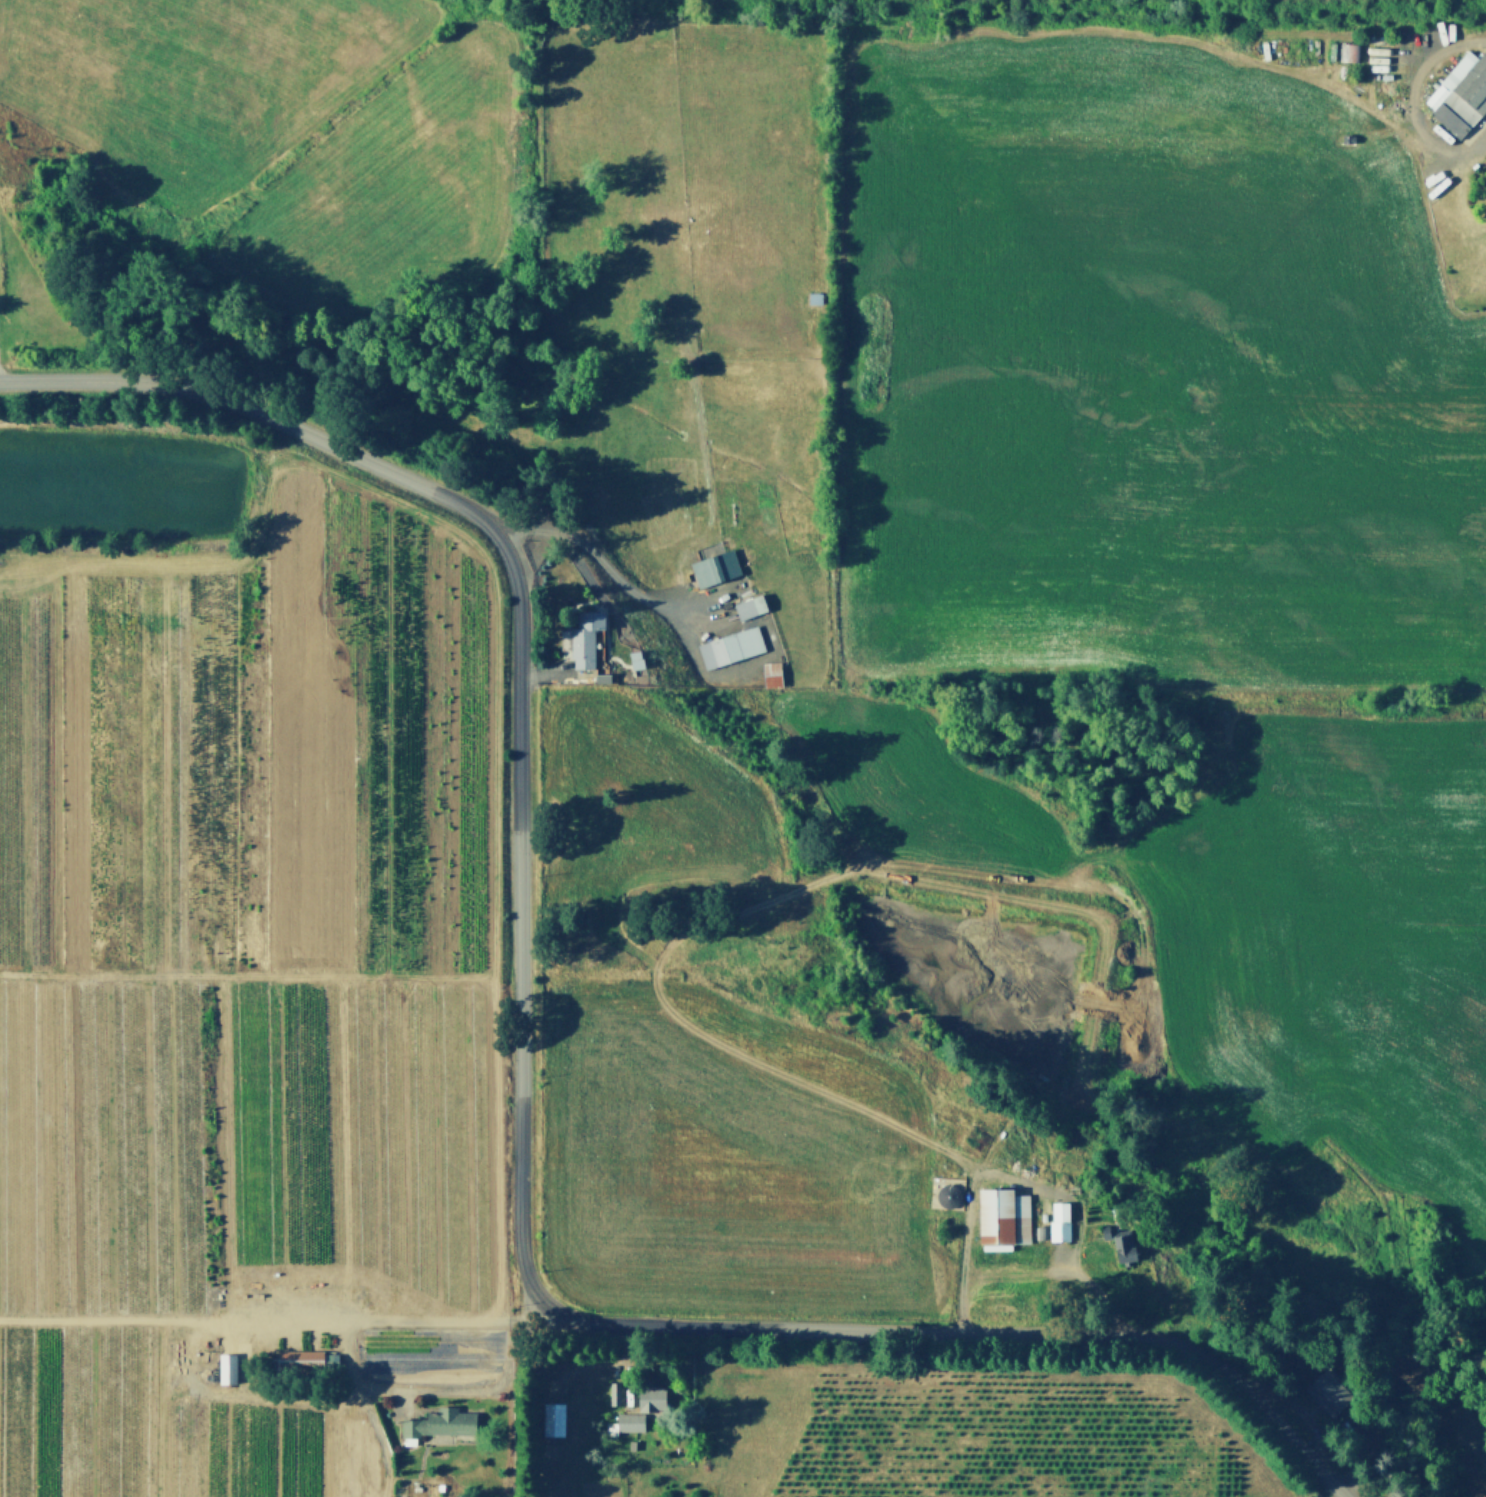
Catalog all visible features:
building: (1348, 52)
building: (1462, 90)
road: (1410, 98)
crop: (1140, 380)
road: (601, 561)
building: (713, 567)
building: (747, 607)
building: (584, 632)
building: (717, 647)
building: (635, 654)
building: (776, 670)
building: (600, 674)
road: (752, 902)
crop: (1325, 957)
crop: (236, 974)
road: (522, 1084)
building: (977, 1138)
road: (1020, 1177)
building: (947, 1195)
building: (1006, 1217)
building: (1063, 1223)
building: (1043, 1234)
building: (1125, 1246)
road: (265, 1321)
building: (304, 1360)
building: (230, 1371)
building: (617, 1395)
building: (1329, 1395)
road: (518, 1396)
building: (653, 1400)
building: (556, 1422)
building: (633, 1423)
building: (441, 1425)
building: (614, 1431)
crop: (979, 1432)
building: (1320, 1496)

